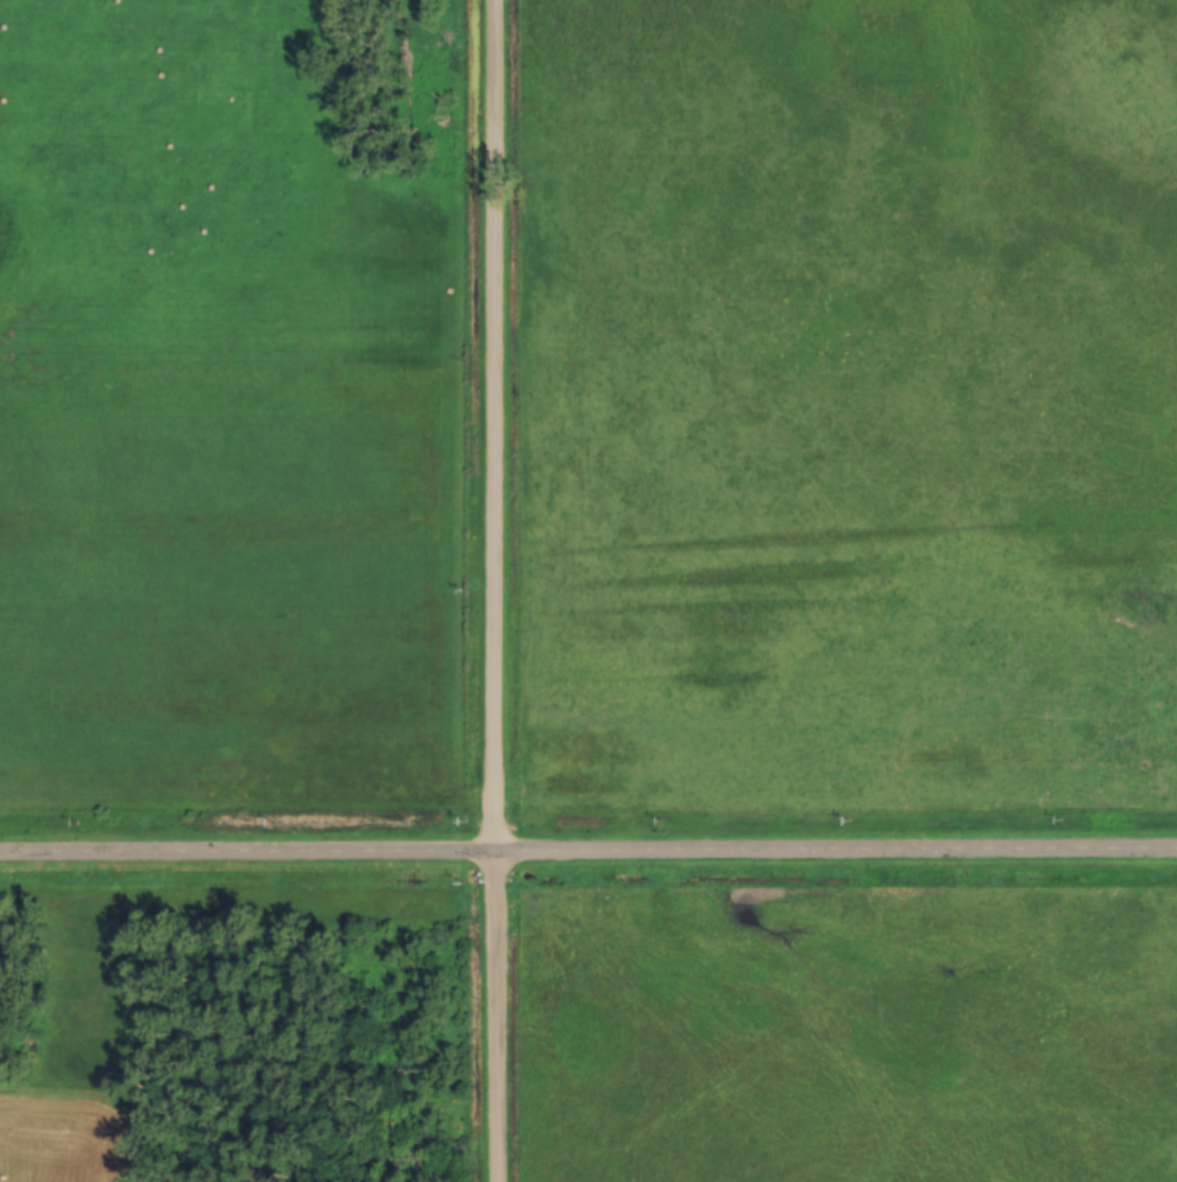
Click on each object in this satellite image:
road: (493, 591)
road: (587, 850)

